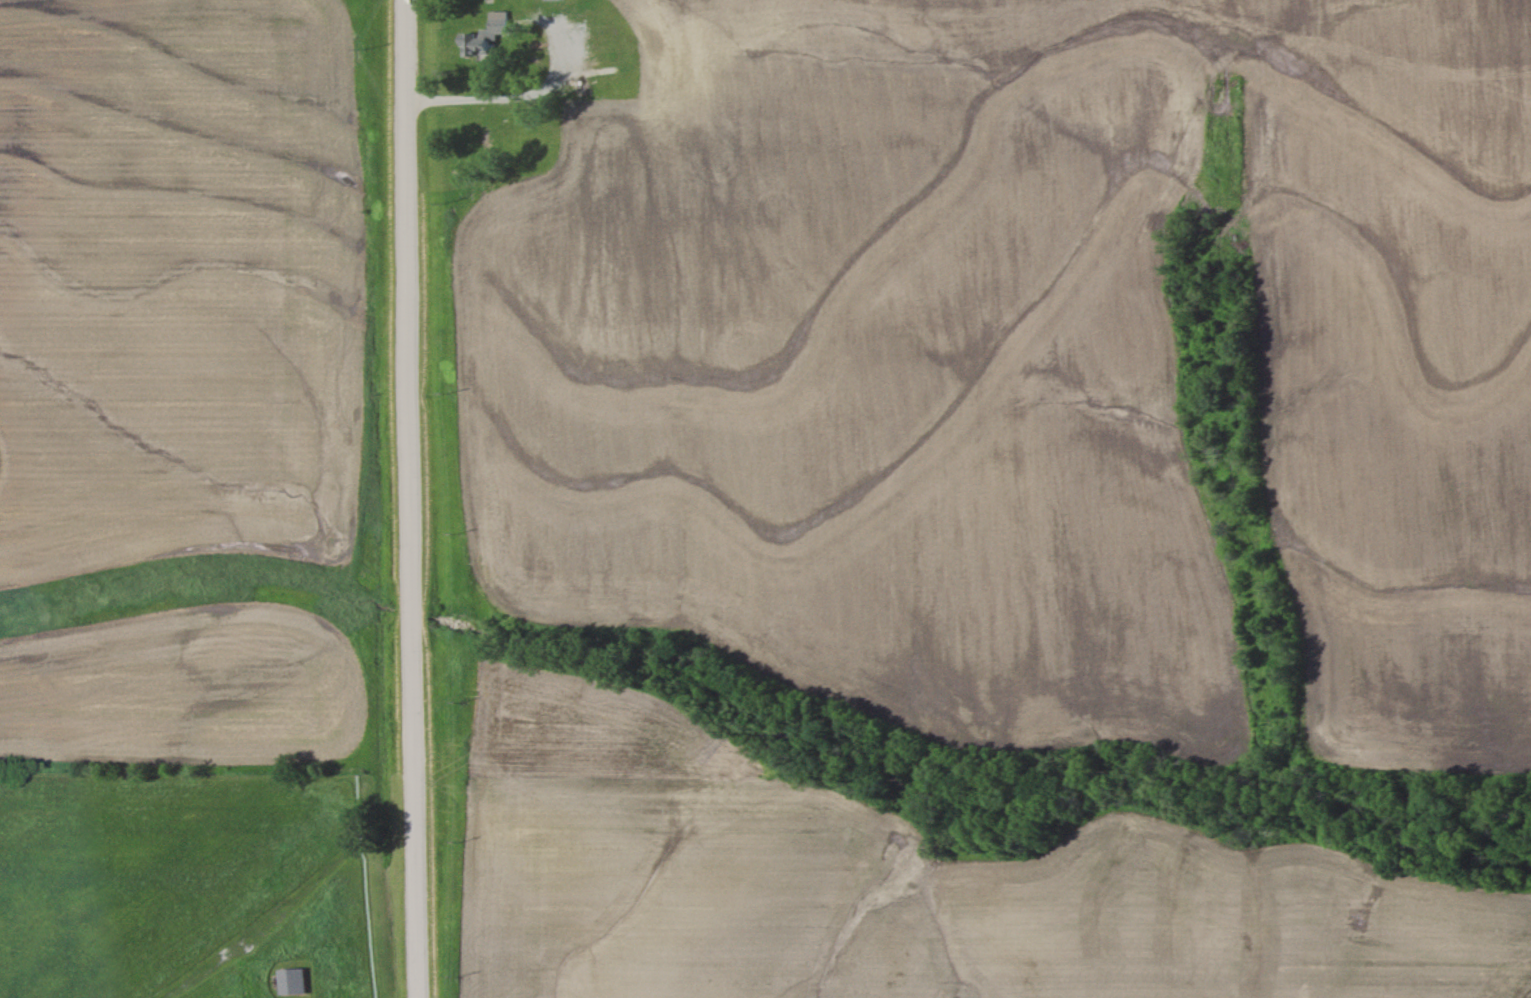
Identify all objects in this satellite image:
building: (484, 36)
road: (540, 96)
road: (406, 366)
road: (412, 866)
building: (292, 982)

